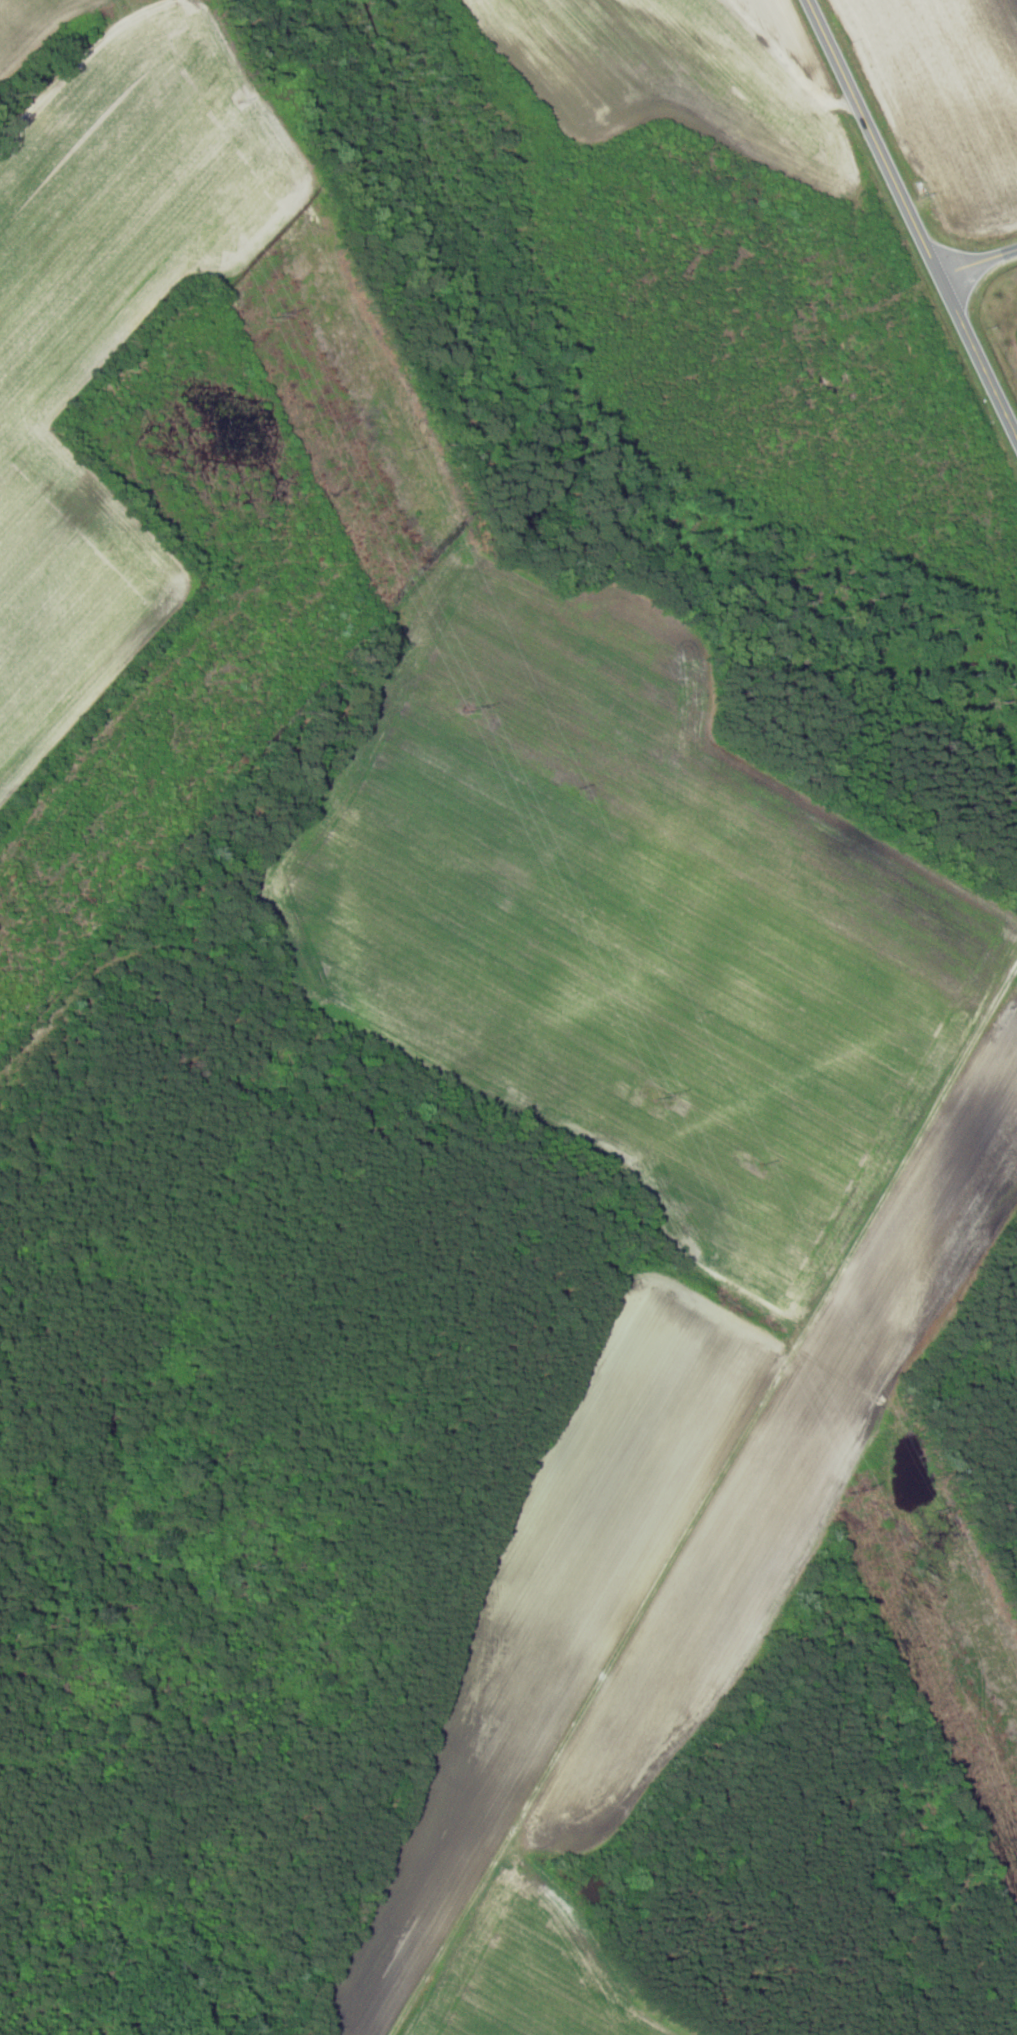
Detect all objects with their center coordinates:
road: (912, 218)
road: (978, 262)
power tower: (279, 314)
power tower: (473, 707)
power tower: (663, 1096)
power tower: (857, 1489)
road: (726, 1543)

